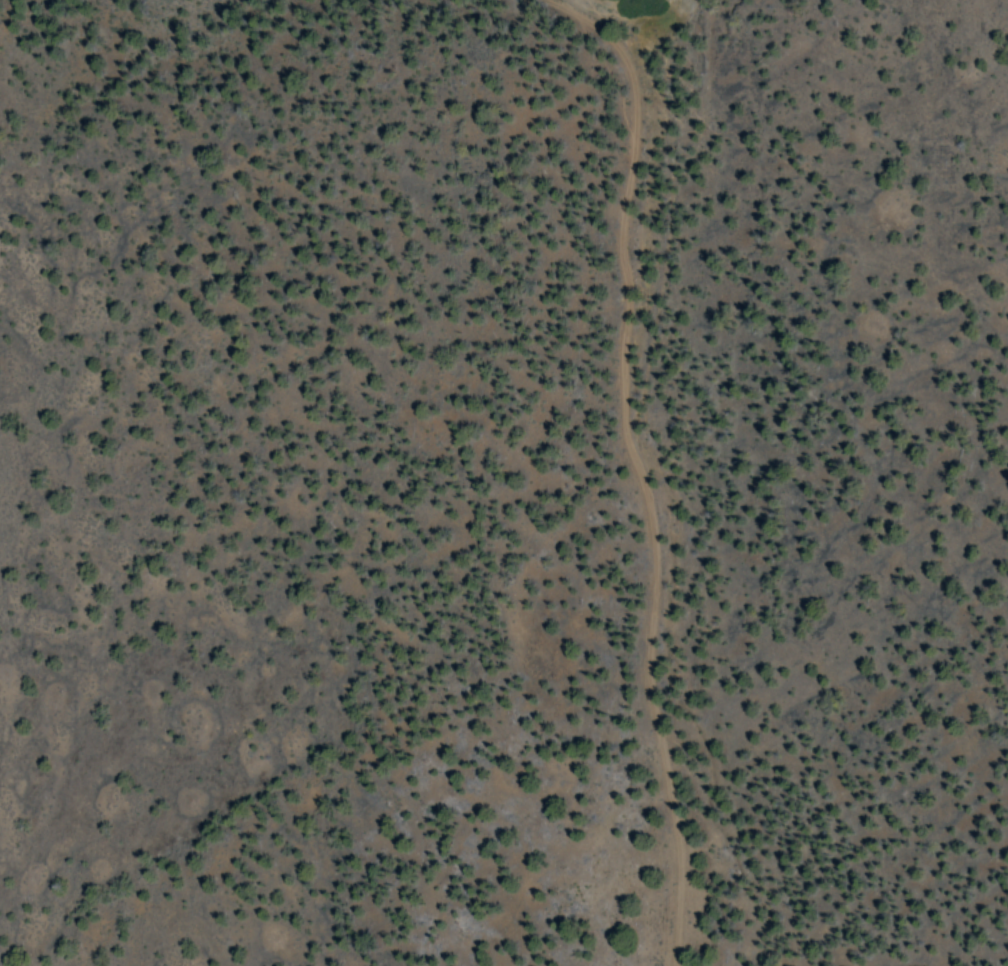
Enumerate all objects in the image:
road: (636, 465)

